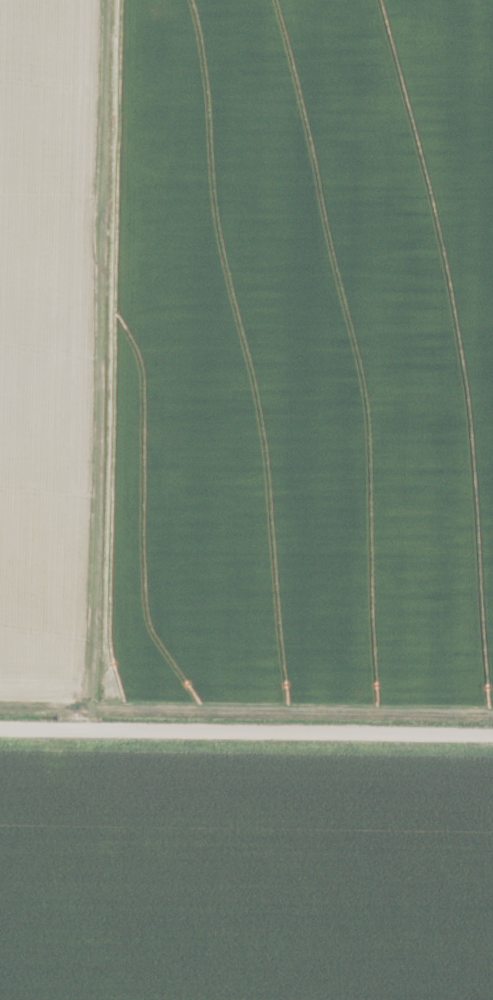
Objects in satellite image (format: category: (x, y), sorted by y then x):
road: (246, 735)

